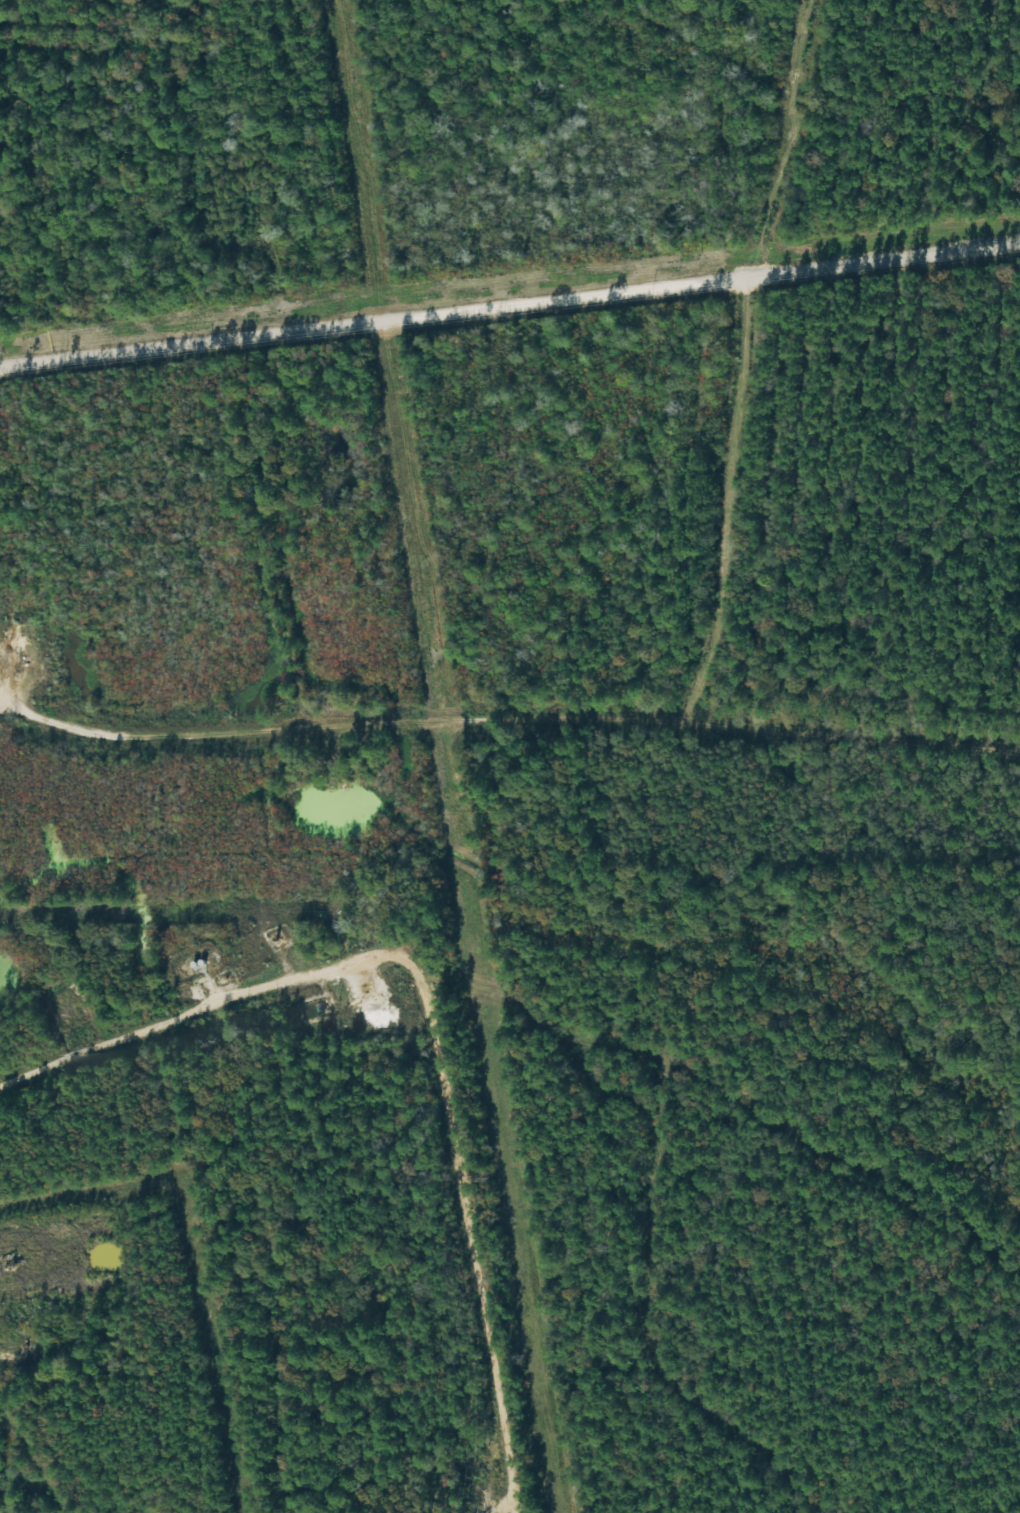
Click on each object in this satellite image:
road: (238, 565)
road: (509, 687)
road: (421, 1039)

